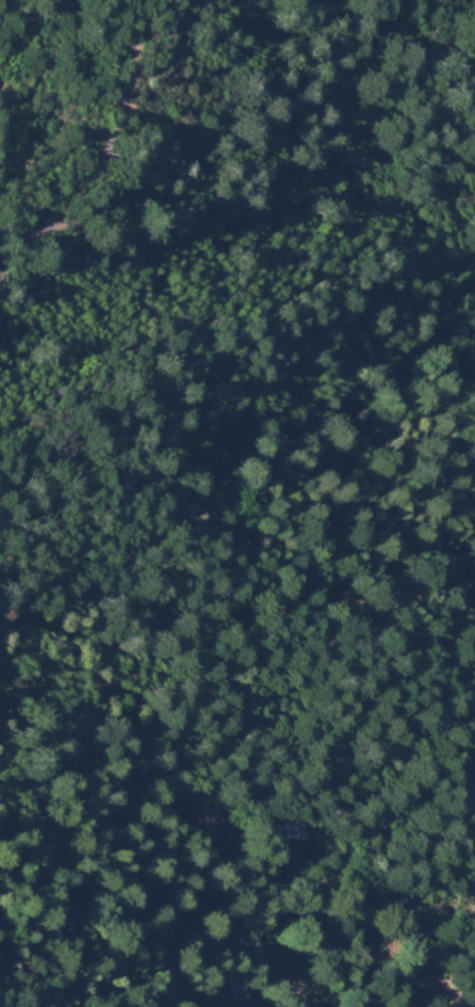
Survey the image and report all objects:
building: (303, 830)
road: (355, 951)
building: (253, 986)

